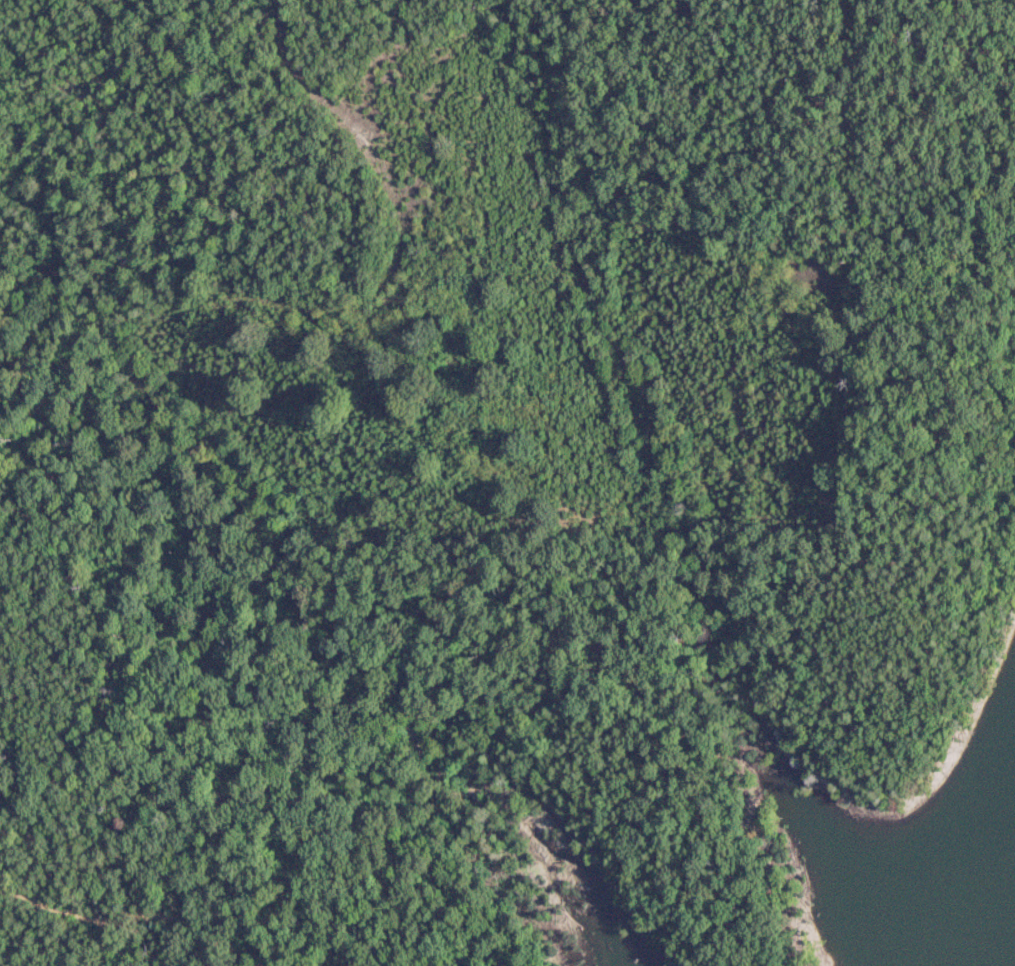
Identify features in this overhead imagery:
road: (388, 853)
road: (79, 922)

